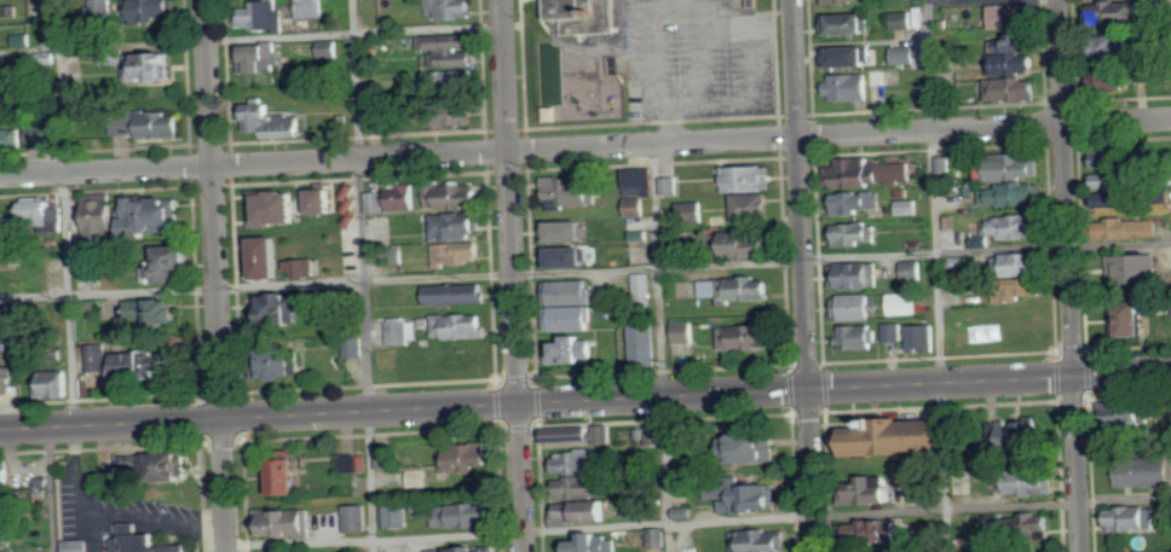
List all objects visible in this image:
building: (847, 0)
road: (961, 1)
building: (745, 4)
building: (455, 7)
building: (104, 8)
building: (151, 8)
building: (312, 8)
building: (1119, 11)
building: (1013, 14)
building: (263, 16)
building: (583, 16)
road: (651, 18)
building: (904, 19)
building: (848, 23)
road: (250, 36)
building: (22, 40)
building: (449, 40)
building: (1015, 42)
building: (1118, 47)
building: (329, 48)
building: (906, 54)
building: (850, 56)
building: (261, 57)
building: (455, 57)
road: (706, 58)
building: (1014, 63)
building: (154, 66)
building: (461, 77)
building: (852, 87)
building: (1014, 88)
road: (754, 103)
building: (85, 108)
building: (450, 112)
building: (272, 121)
building: (149, 123)
road: (674, 123)
building: (44, 134)
building: (11, 135)
road: (584, 146)
building: (1109, 156)
building: (945, 164)
building: (1017, 164)
building: (869, 172)
building: (750, 178)
building: (1112, 179)
building: (641, 181)
building: (671, 185)
building: (571, 191)
building: (455, 194)
building: (1014, 194)
building: (405, 196)
building: (325, 199)
building: (1114, 199)
building: (855, 201)
building: (375, 202)
building: (350, 203)
building: (40, 205)
building: (636, 205)
building: (752, 205)
building: (278, 207)
building: (906, 207)
road: (64, 213)
building: (693, 213)
building: (152, 215)
building: (104, 217)
building: (8, 223)
building: (460, 225)
building: (1014, 226)
building: (1132, 227)
building: (566, 229)
building: (856, 232)
building: (748, 243)
building: (460, 251)
building: (566, 255)
building: (271, 256)
building: (7, 257)
building: (169, 263)
building: (1023, 263)
building: (304, 267)
building: (1135, 267)
road: (584, 268)
building: (912, 268)
building: (856, 274)
road: (217, 275)
road: (362, 275)
road: (513, 275)
road: (804, 275)
road: (936, 275)
road: (1071, 275)
building: (642, 285)
building: (1021, 287)
building: (737, 289)
building: (570, 291)
building: (457, 294)
building: (902, 303)
building: (854, 306)
building: (279, 307)
building: (156, 309)
building: (6, 314)
building: (571, 316)
building: (1131, 316)
building: (461, 324)
building: (404, 331)
building: (893, 331)
building: (685, 332)
building: (858, 336)
building: (923, 336)
building: (749, 337)
building: (6, 339)
building: (645, 342)
building: (356, 345)
road: (662, 348)
building: (573, 349)
building: (98, 356)
building: (282, 361)
building: (152, 362)
building: (6, 378)
building: (53, 383)
road: (585, 401)
building: (1135, 413)
building: (571, 432)
building: (606, 434)
building: (1022, 435)
building: (656, 436)
building: (900, 436)
building: (760, 447)
building: (388, 457)
building: (465, 457)
building: (356, 463)
building: (579, 463)
building: (156, 464)
building: (1144, 472)
building: (287, 476)
building: (420, 477)
building: (7, 480)
building: (1028, 482)
building: (578, 487)
road: (51, 489)
building: (872, 490)
building: (751, 498)
building: (8, 507)
building: (584, 511)
building: (463, 515)
building: (397, 516)
building: (359, 518)
building: (1133, 518)
building: (1167, 518)
road: (699, 521)
building: (289, 523)
building: (1019, 524)
building: (877, 529)
building: (6, 535)
building: (658, 538)
building: (140, 539)
building: (760, 540)
building: (594, 544)
building: (76, 545)
building: (463, 550)

